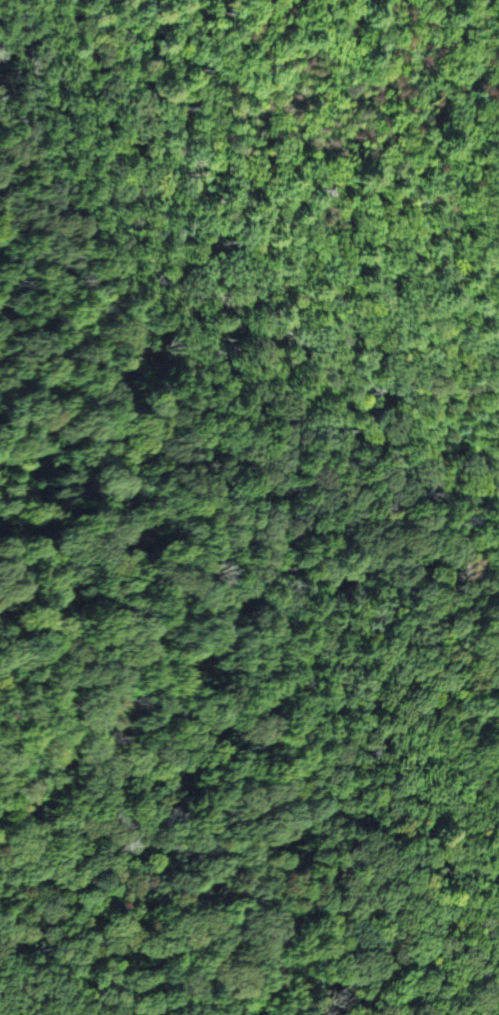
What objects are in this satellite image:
road: (4, 1008)

